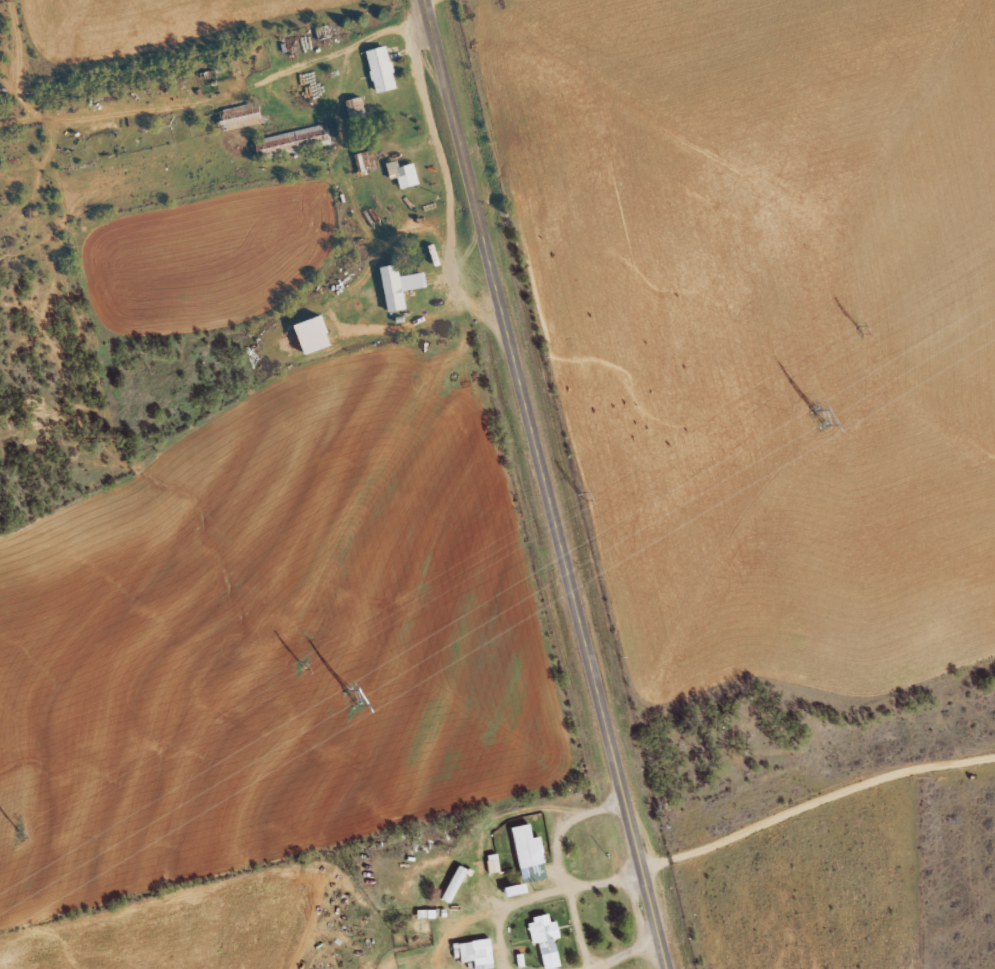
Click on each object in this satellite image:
building: (382, 70)
building: (241, 117)
building: (293, 143)
building: (404, 175)
road: (443, 177)
road: (470, 264)
building: (399, 288)
power tower: (861, 329)
building: (314, 335)
power tower: (816, 418)
road: (545, 484)
power tower: (584, 496)
power tower: (303, 665)
power tower: (351, 700)
power tower: (21, 834)
building: (529, 853)
building: (493, 862)
building: (454, 883)
building: (545, 938)
building: (477, 952)

